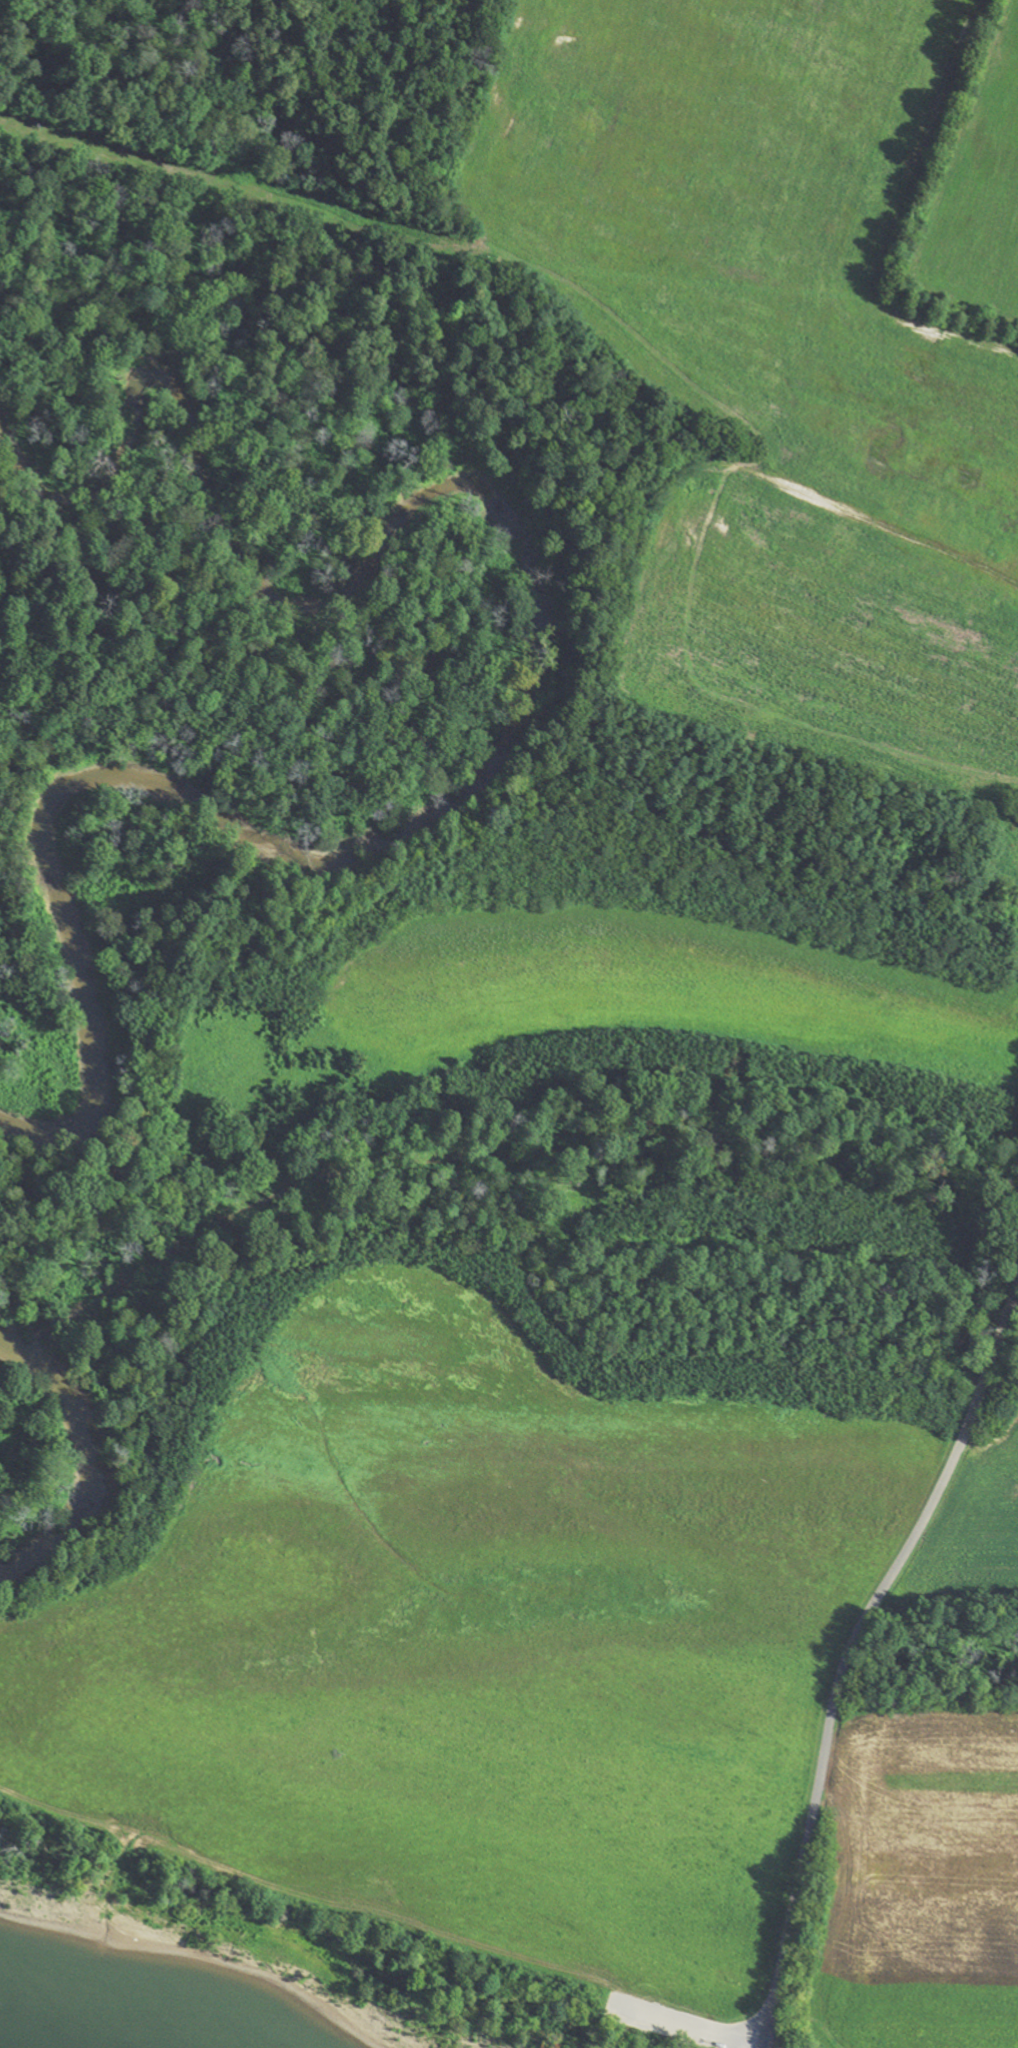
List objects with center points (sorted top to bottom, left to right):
road: (833, 1715)

